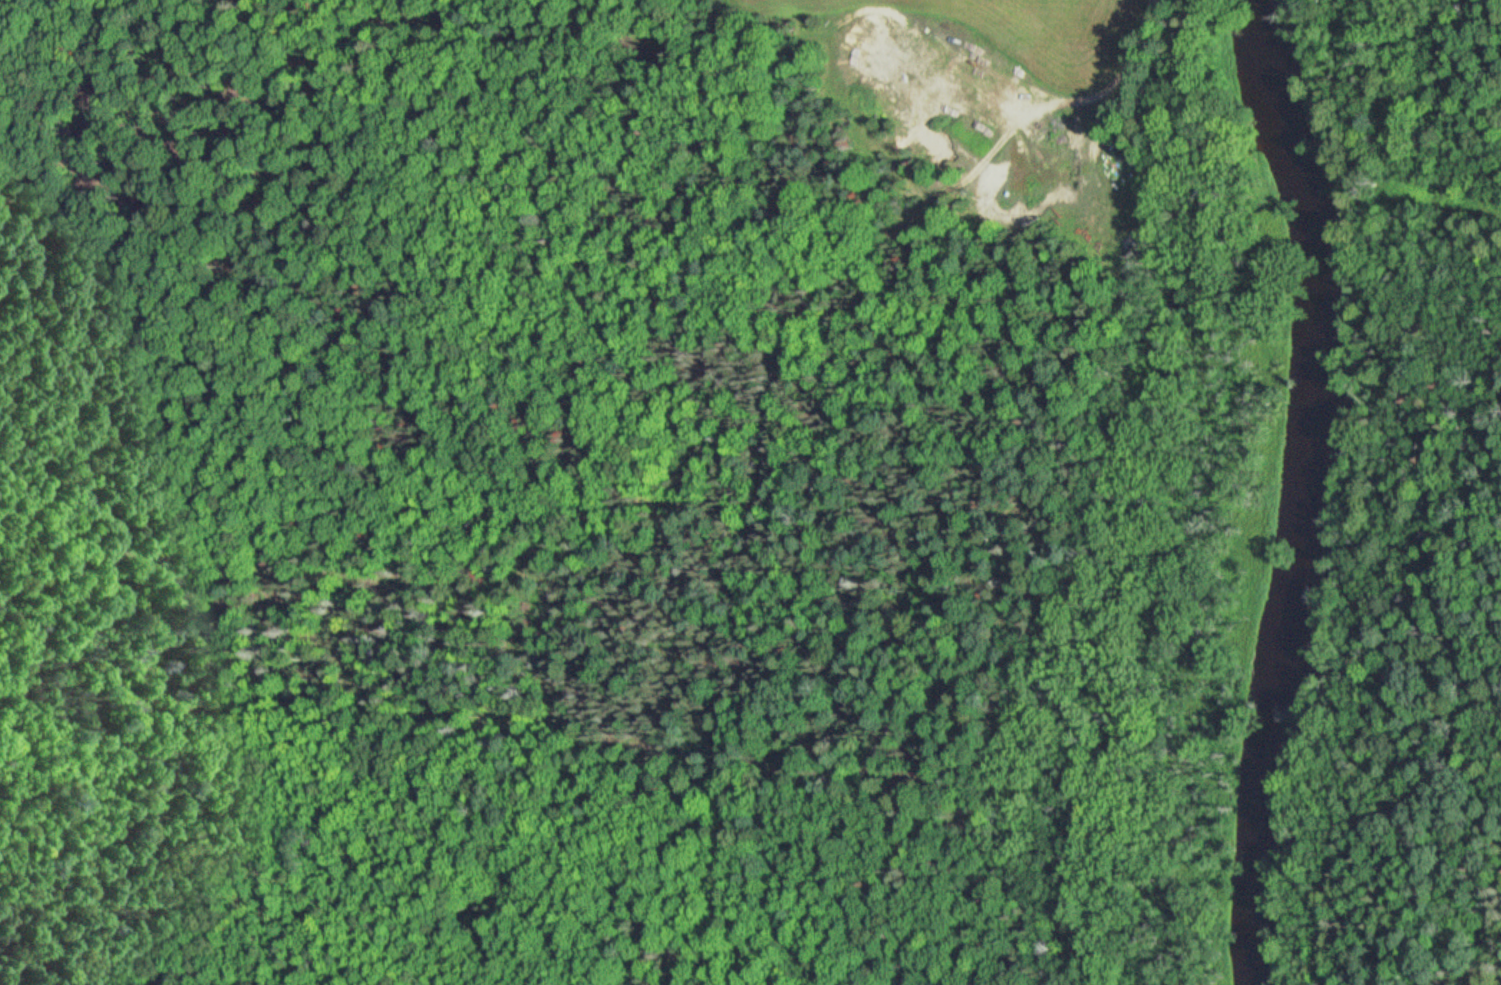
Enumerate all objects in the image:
river: (1296, 488)

